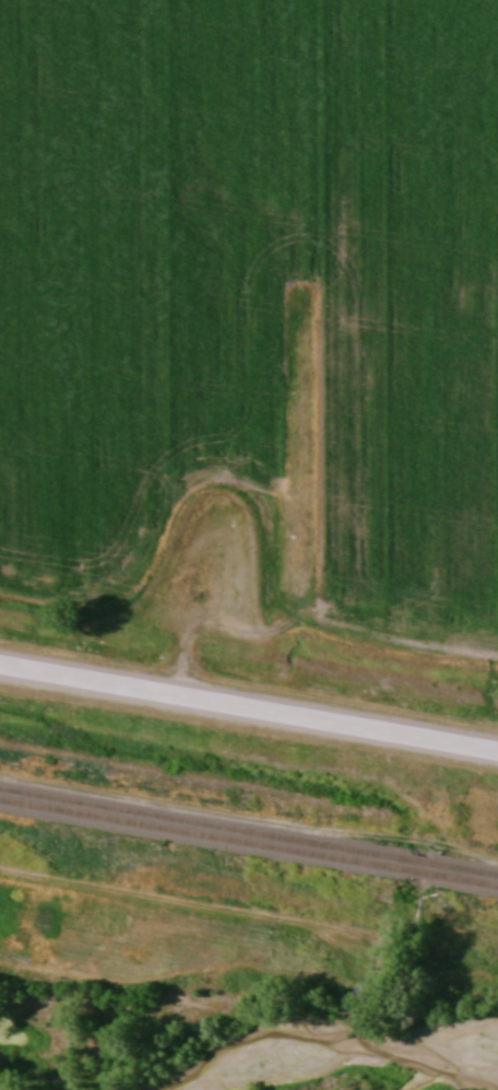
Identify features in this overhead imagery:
road: (248, 708)
railway: (249, 833)
railway: (249, 843)

